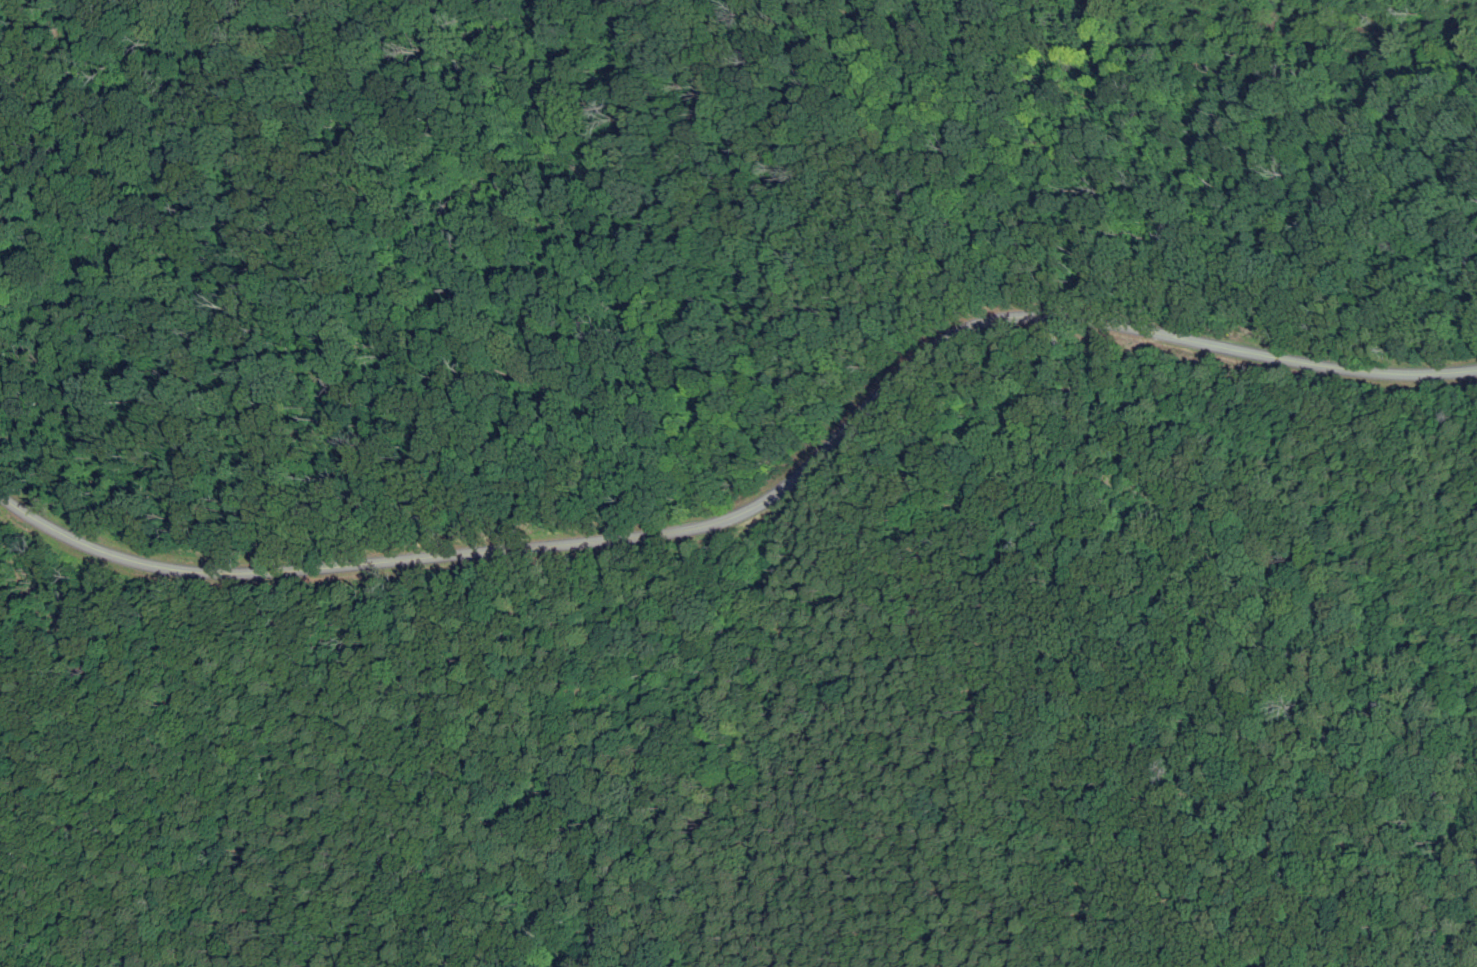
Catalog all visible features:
road: (23, 46)
road: (5, 161)
road: (761, 503)

